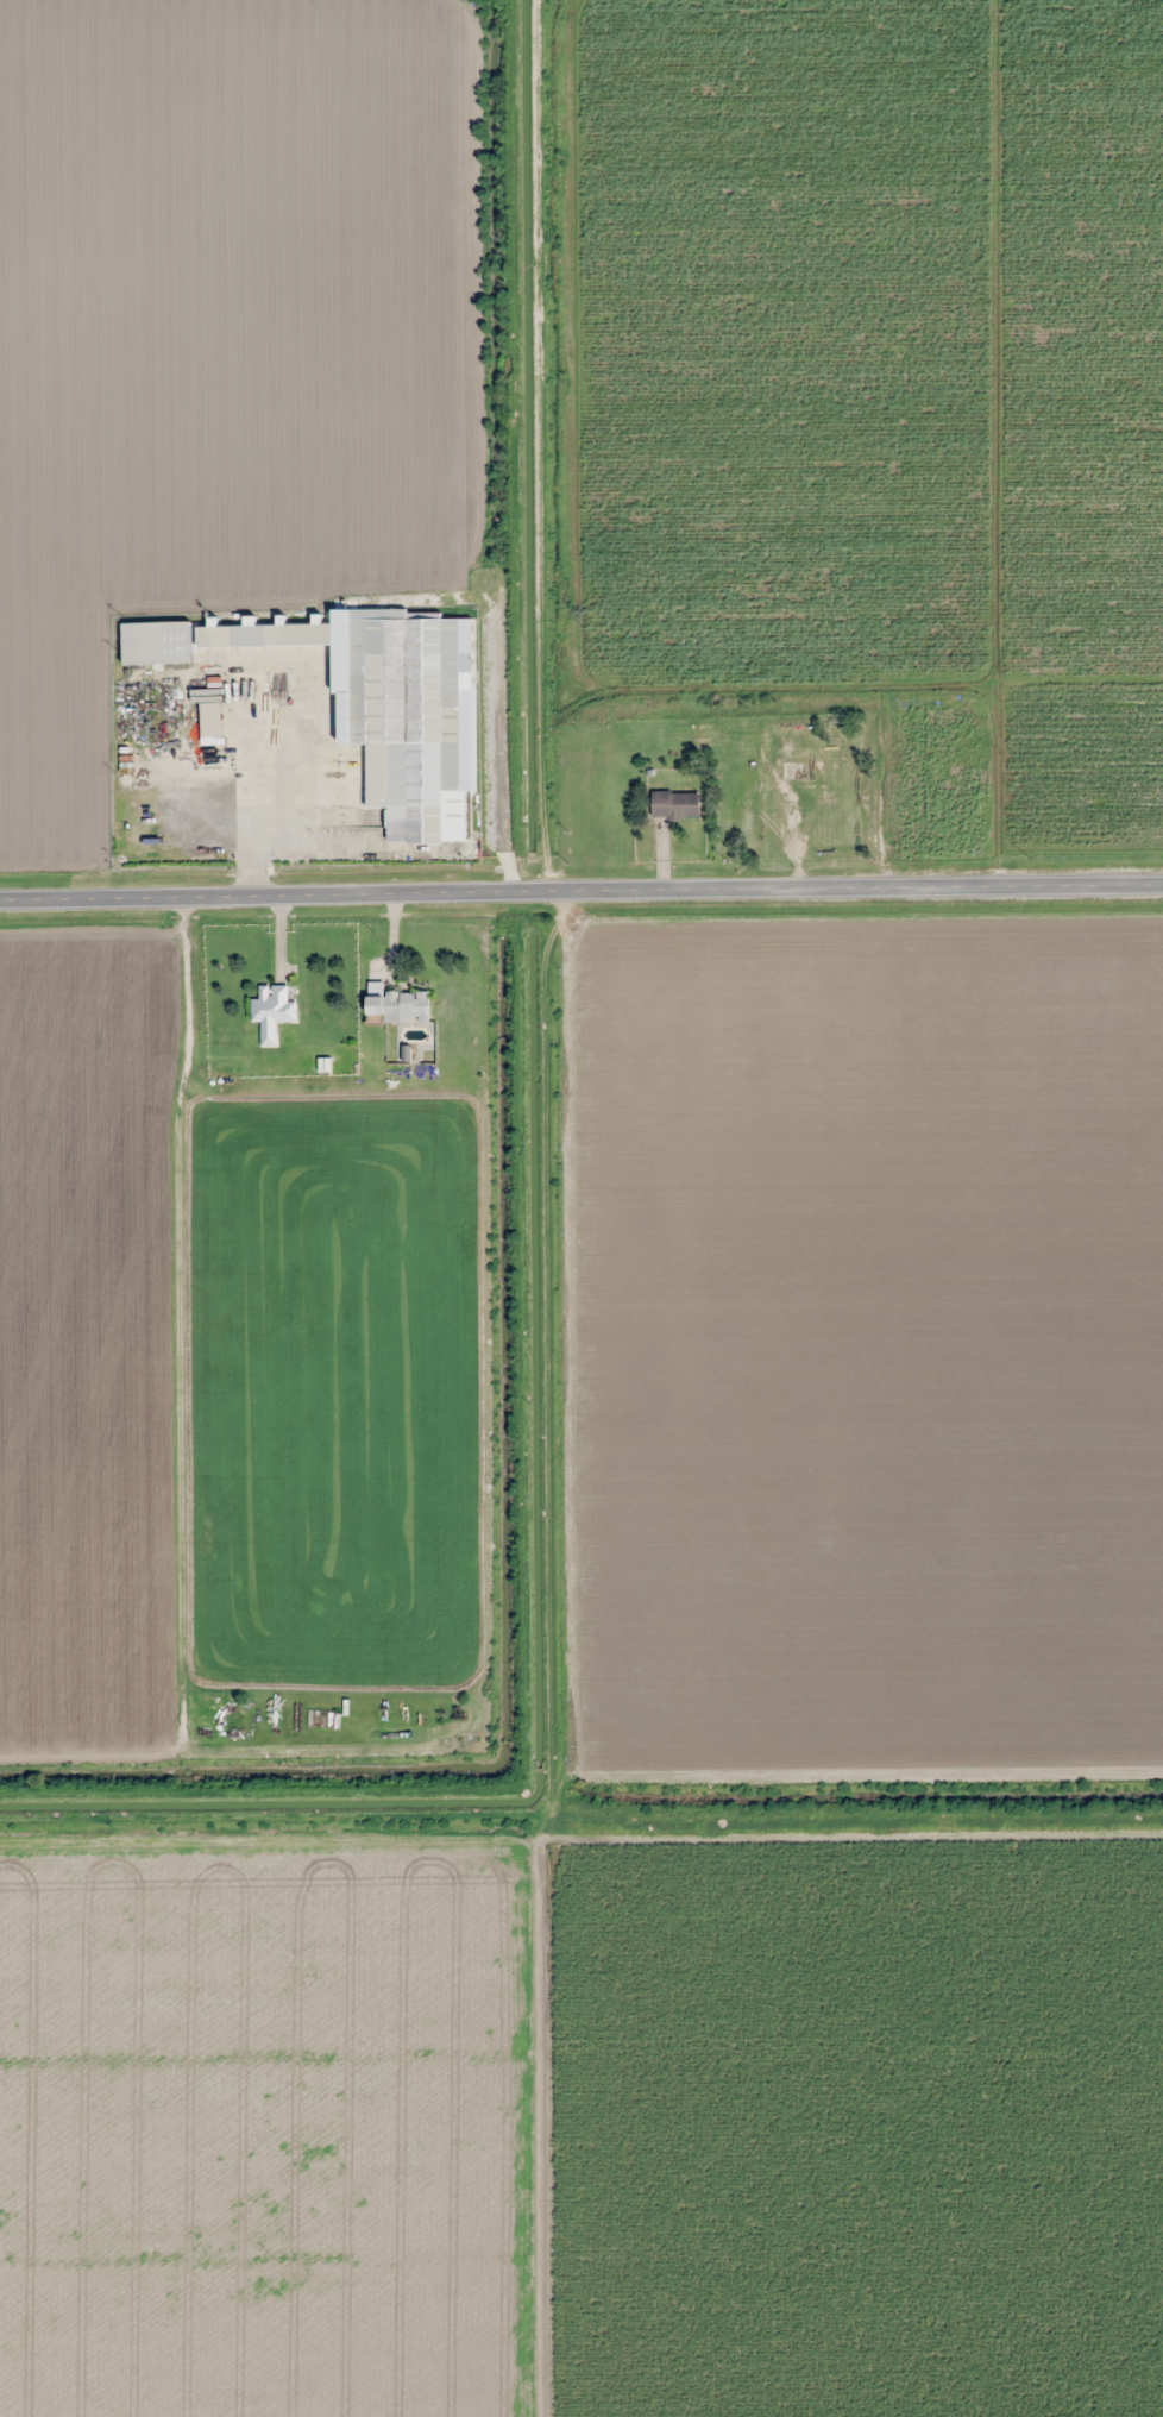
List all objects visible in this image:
building: (265, 633)
building: (157, 642)
building: (406, 714)
building: (212, 718)
building: (675, 804)
road: (581, 891)
building: (396, 1005)
building: (272, 1010)
road: (591, 1665)

